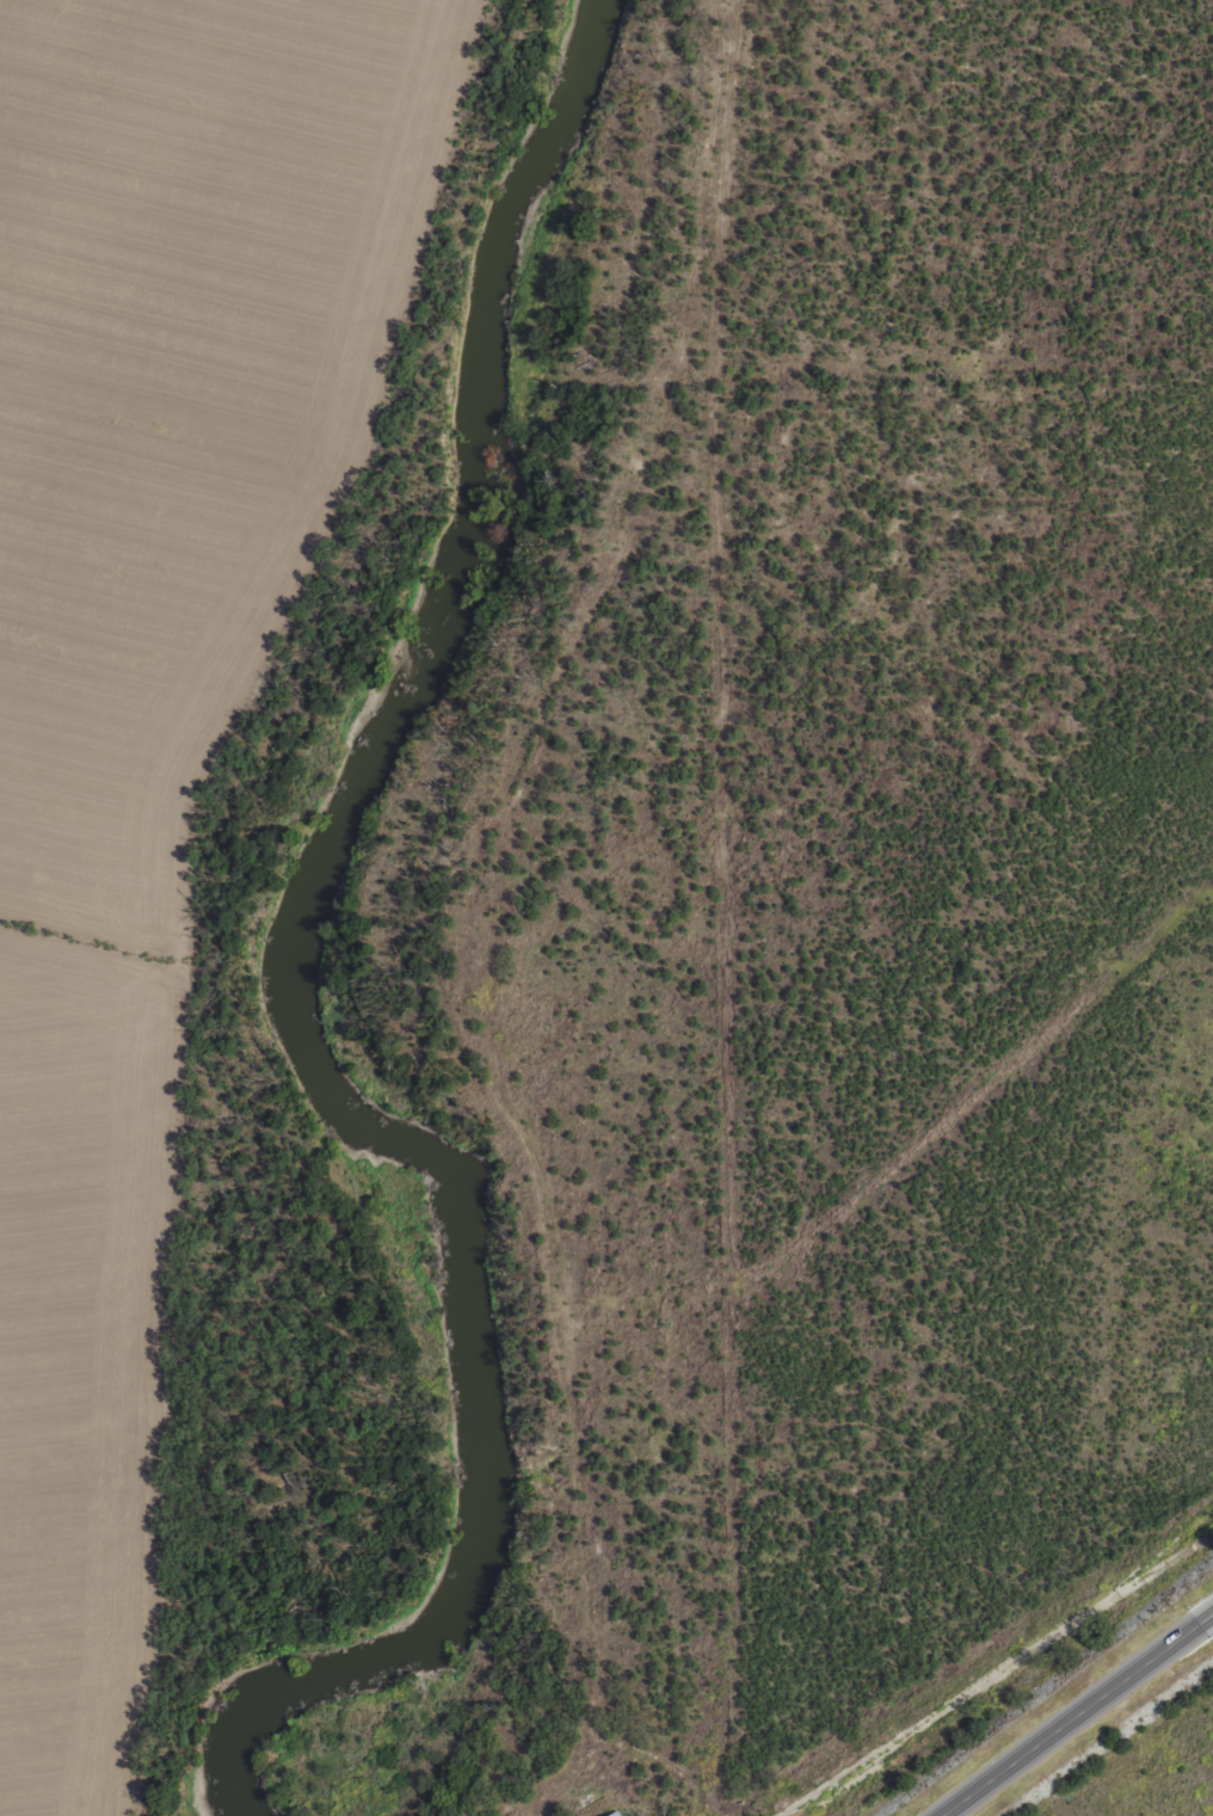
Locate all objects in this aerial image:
river: (331, 962)
road: (1089, 1722)
building: (615, 1814)

